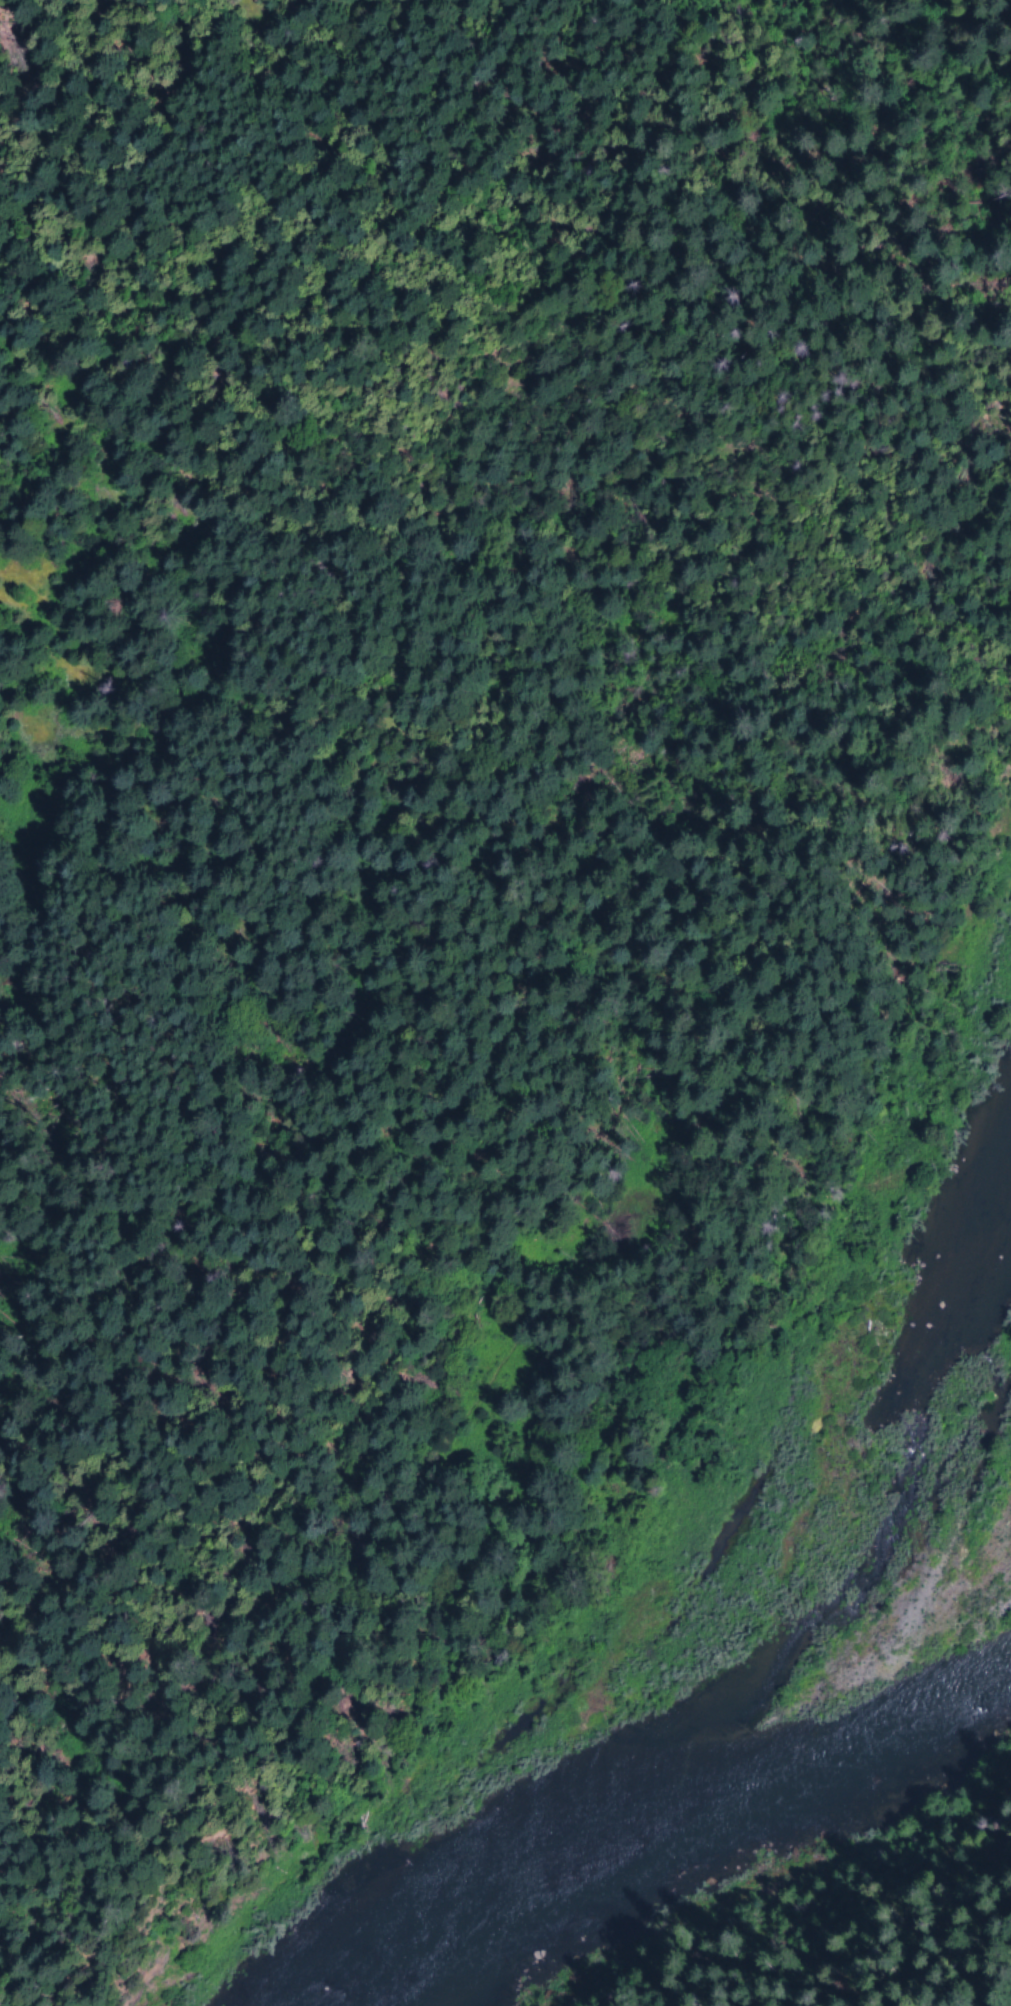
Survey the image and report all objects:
road: (1008, 236)
road: (590, 1292)
river: (725, 1828)

